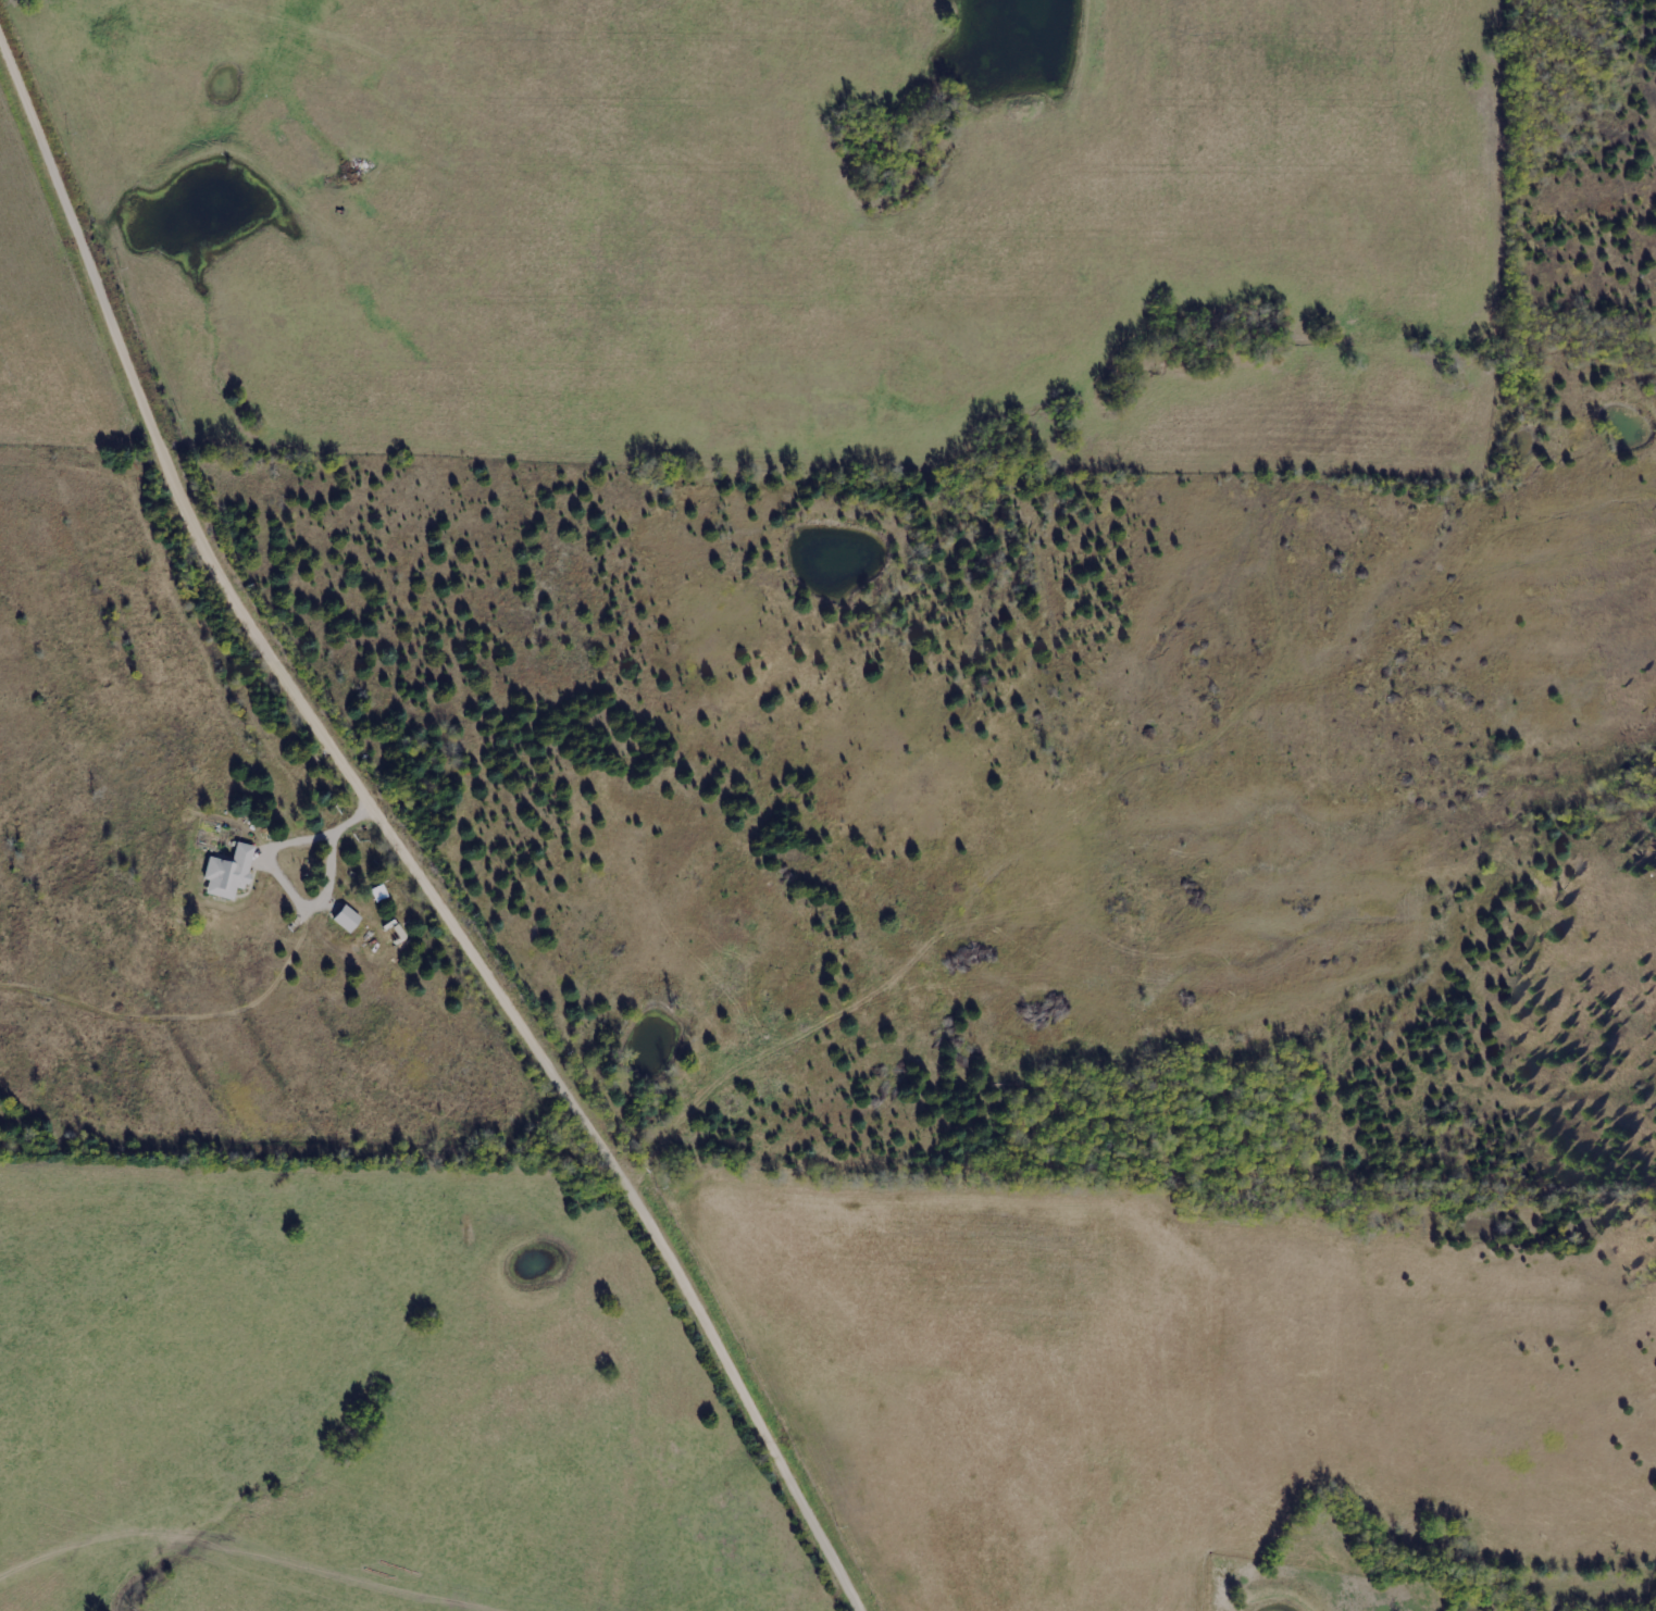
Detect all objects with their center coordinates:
road: (410, 851)
building: (233, 872)
road: (304, 903)
building: (351, 919)

